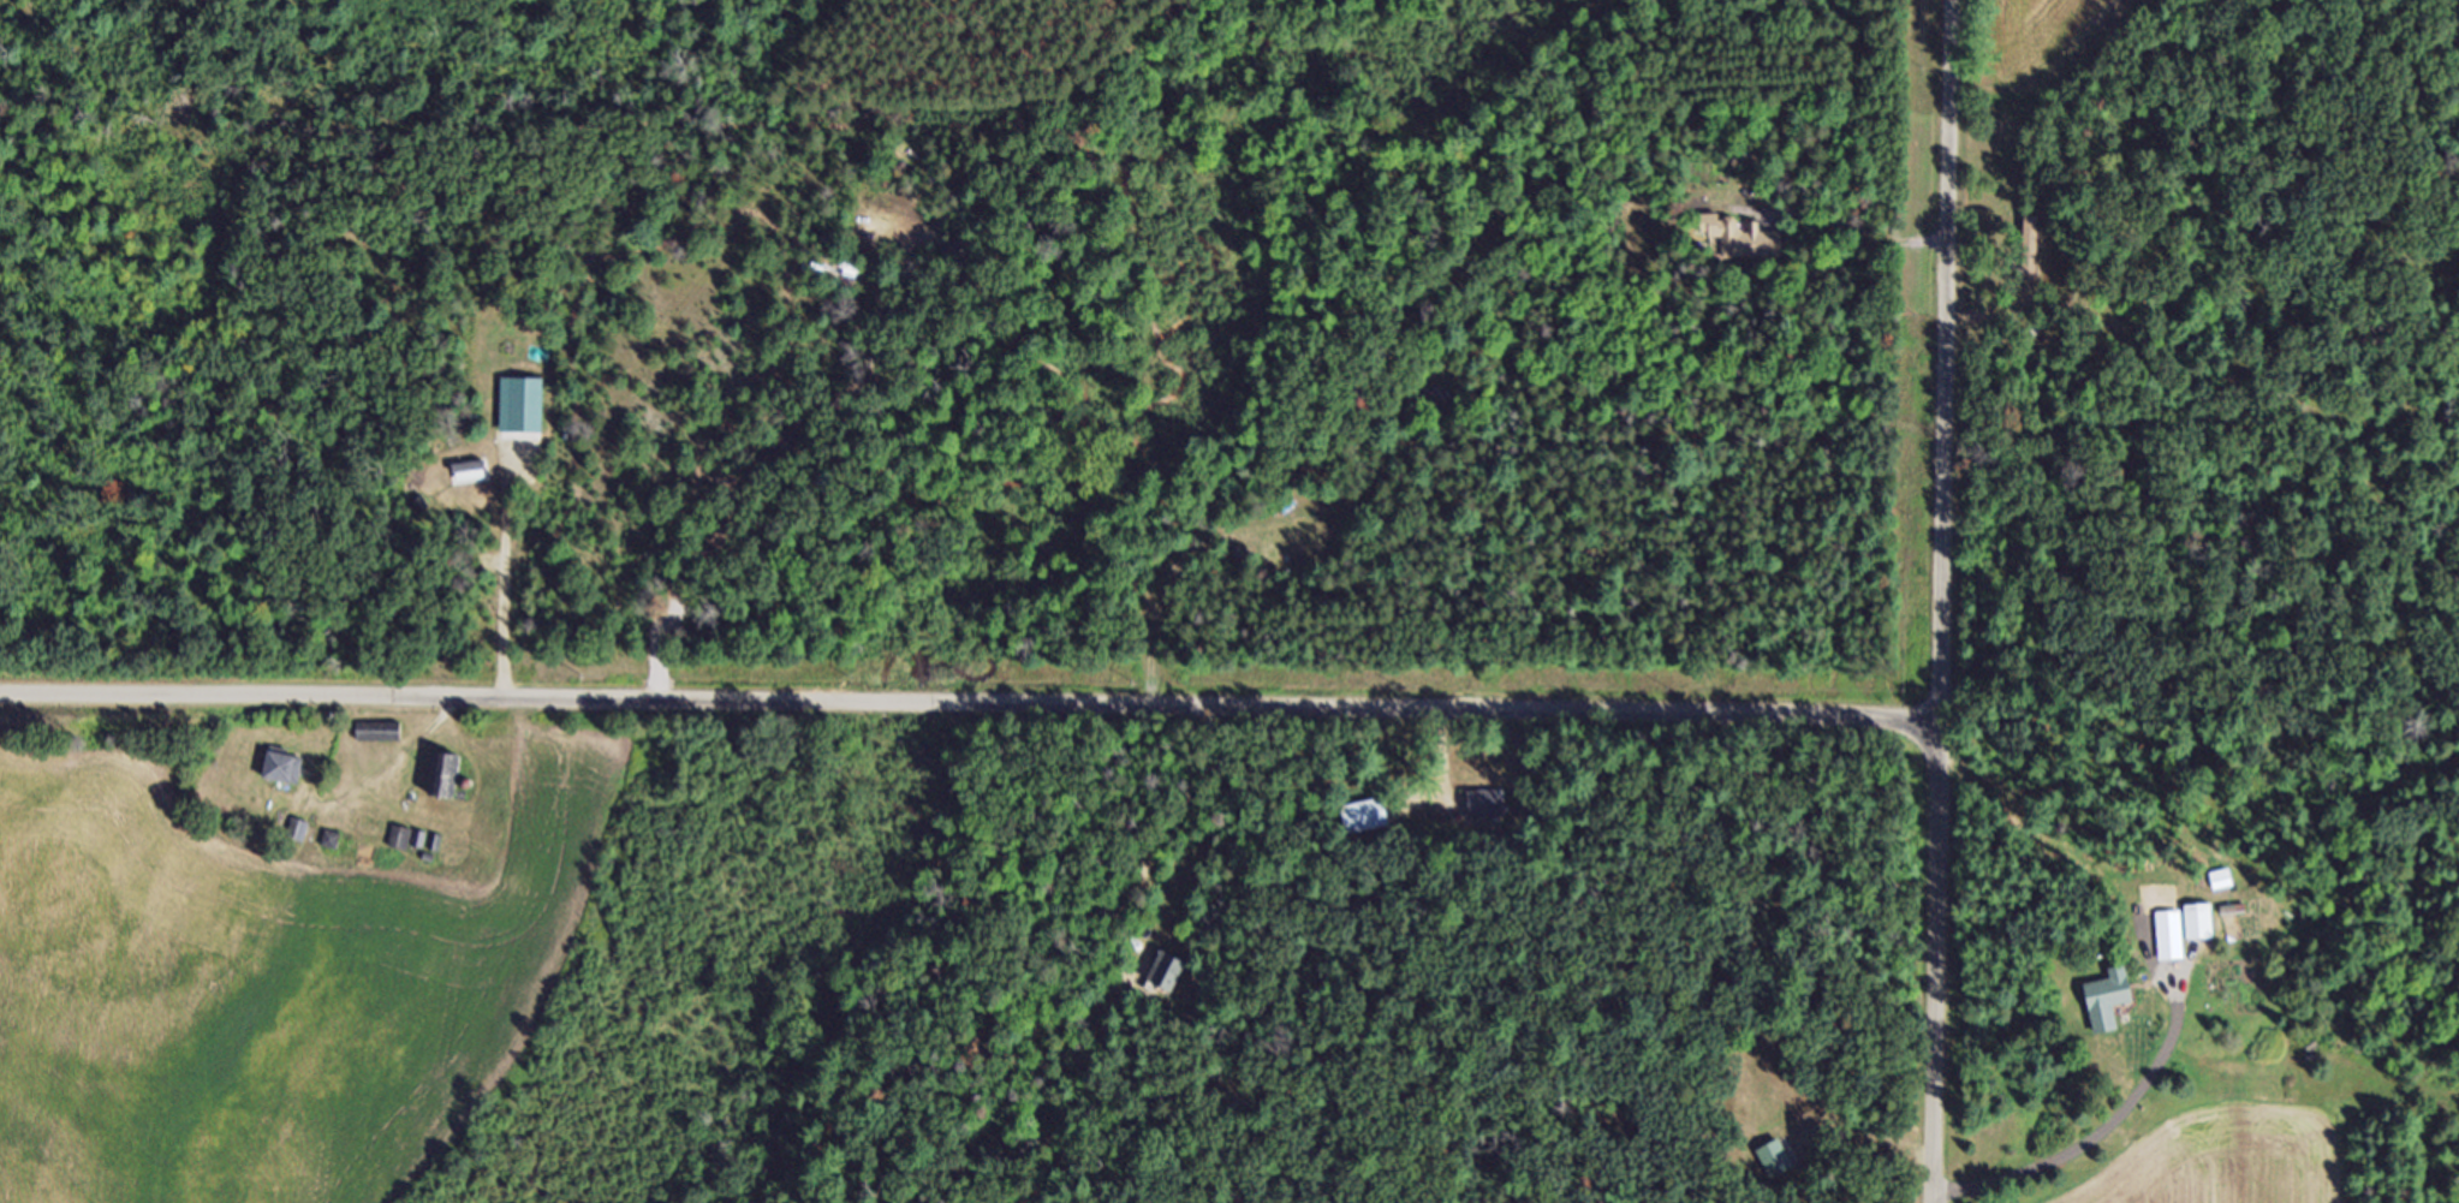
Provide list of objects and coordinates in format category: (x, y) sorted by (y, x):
building: (2035, 251)
road: (1947, 601)
road: (972, 705)
building: (382, 740)
building: (285, 778)
building: (447, 785)
building: (1492, 812)
building: (1370, 824)
building: (404, 846)
building: (2203, 930)
road: (2226, 931)
building: (2174, 942)
building: (1171, 981)
building: (2112, 1008)
building: (1780, 1168)

